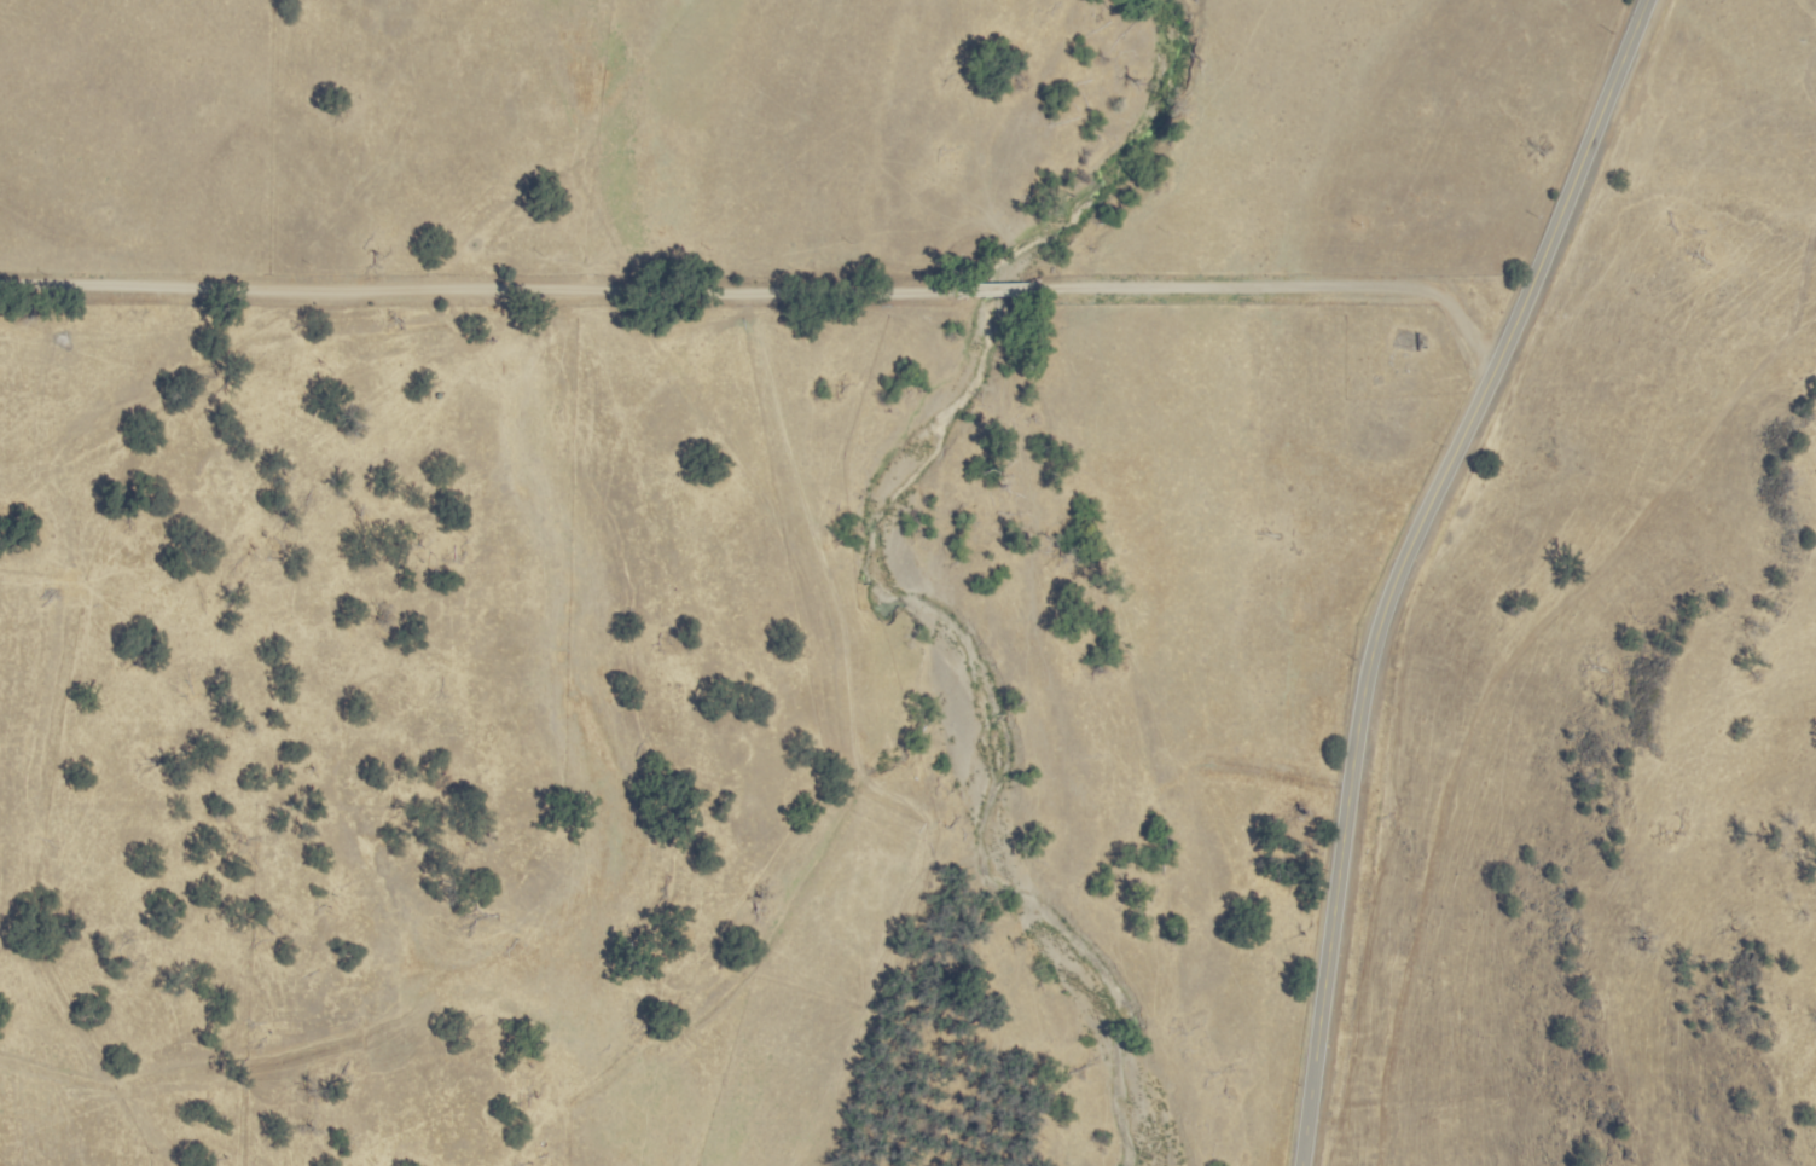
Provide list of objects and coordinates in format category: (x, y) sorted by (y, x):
road: (761, 295)
crop: (1342, 394)
road: (1403, 563)
crop: (424, 593)

